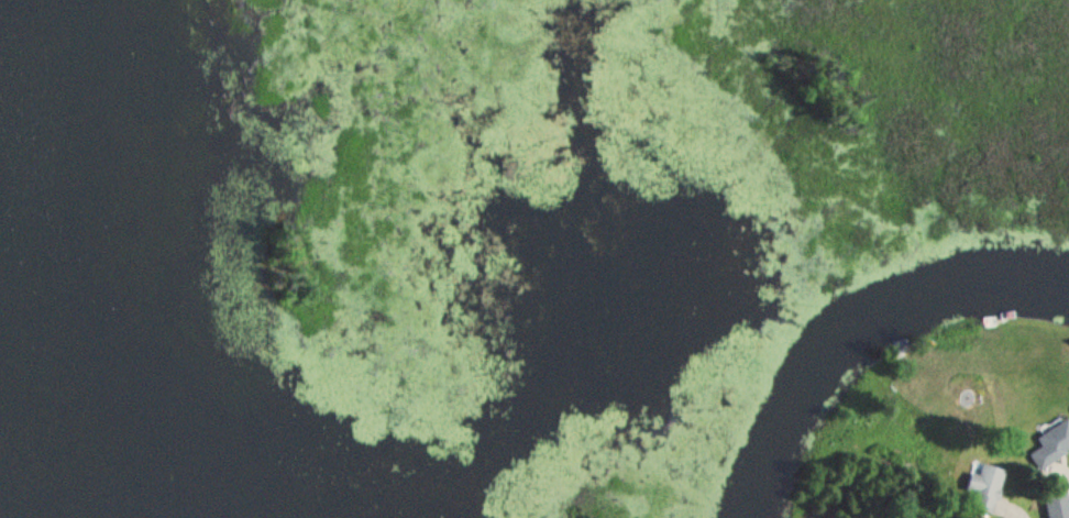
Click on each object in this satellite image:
building: (1051, 444)
building: (987, 486)

